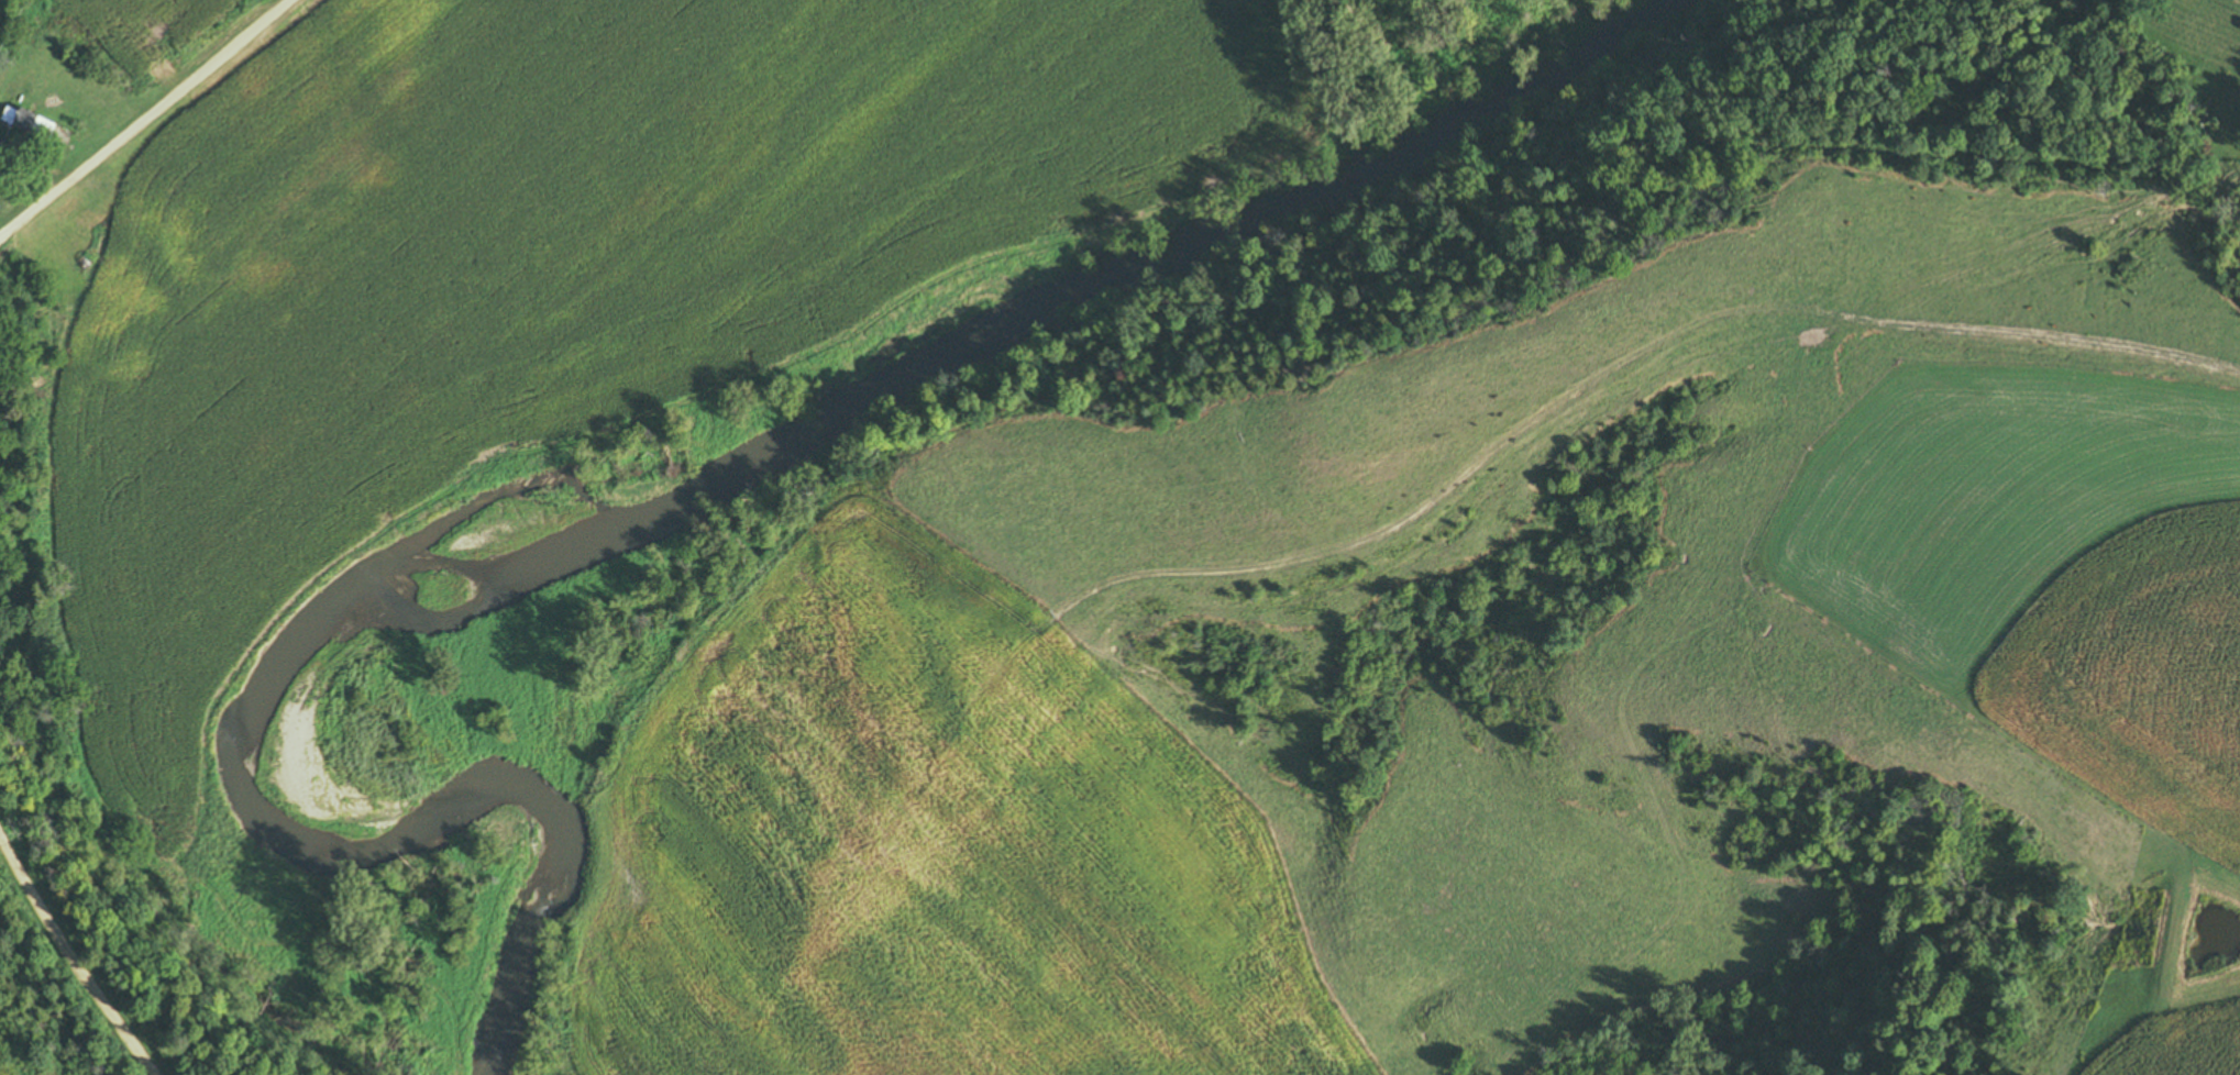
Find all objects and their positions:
road: (145, 118)
building: (32, 123)
river: (699, 488)
road: (71, 963)

